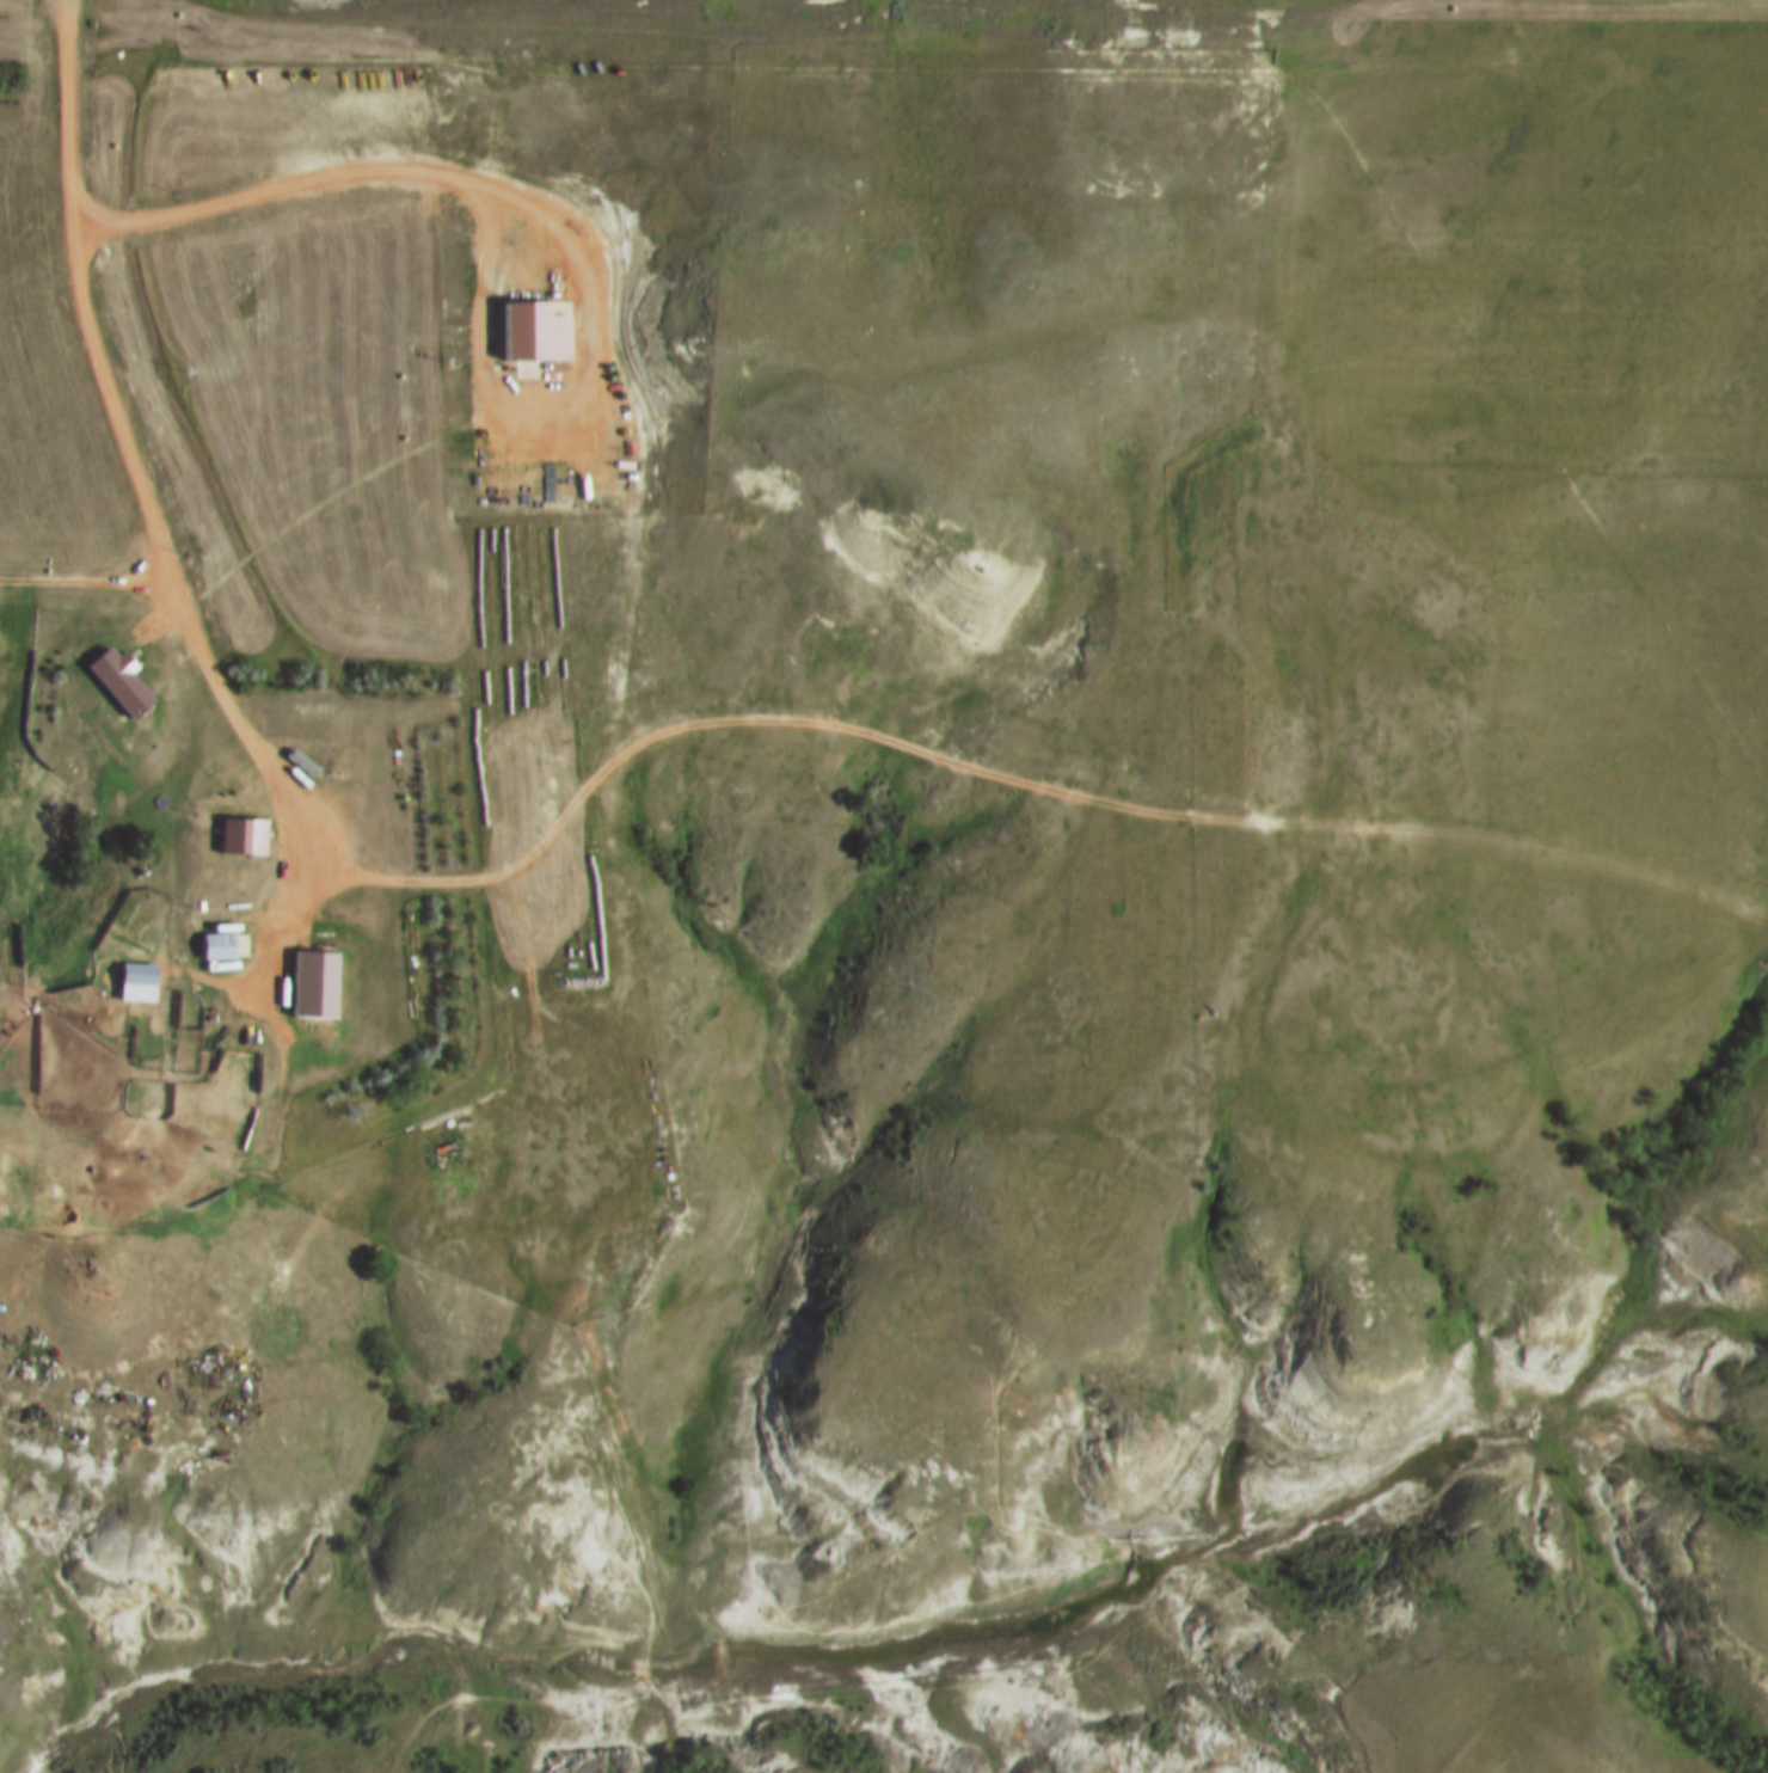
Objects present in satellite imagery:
road: (172, 581)
road: (91, 588)
building: (301, 768)
road: (1032, 791)
building: (237, 839)
building: (210, 949)
building: (569, 982)
building: (131, 984)
building: (307, 987)
building: (227, 1061)

